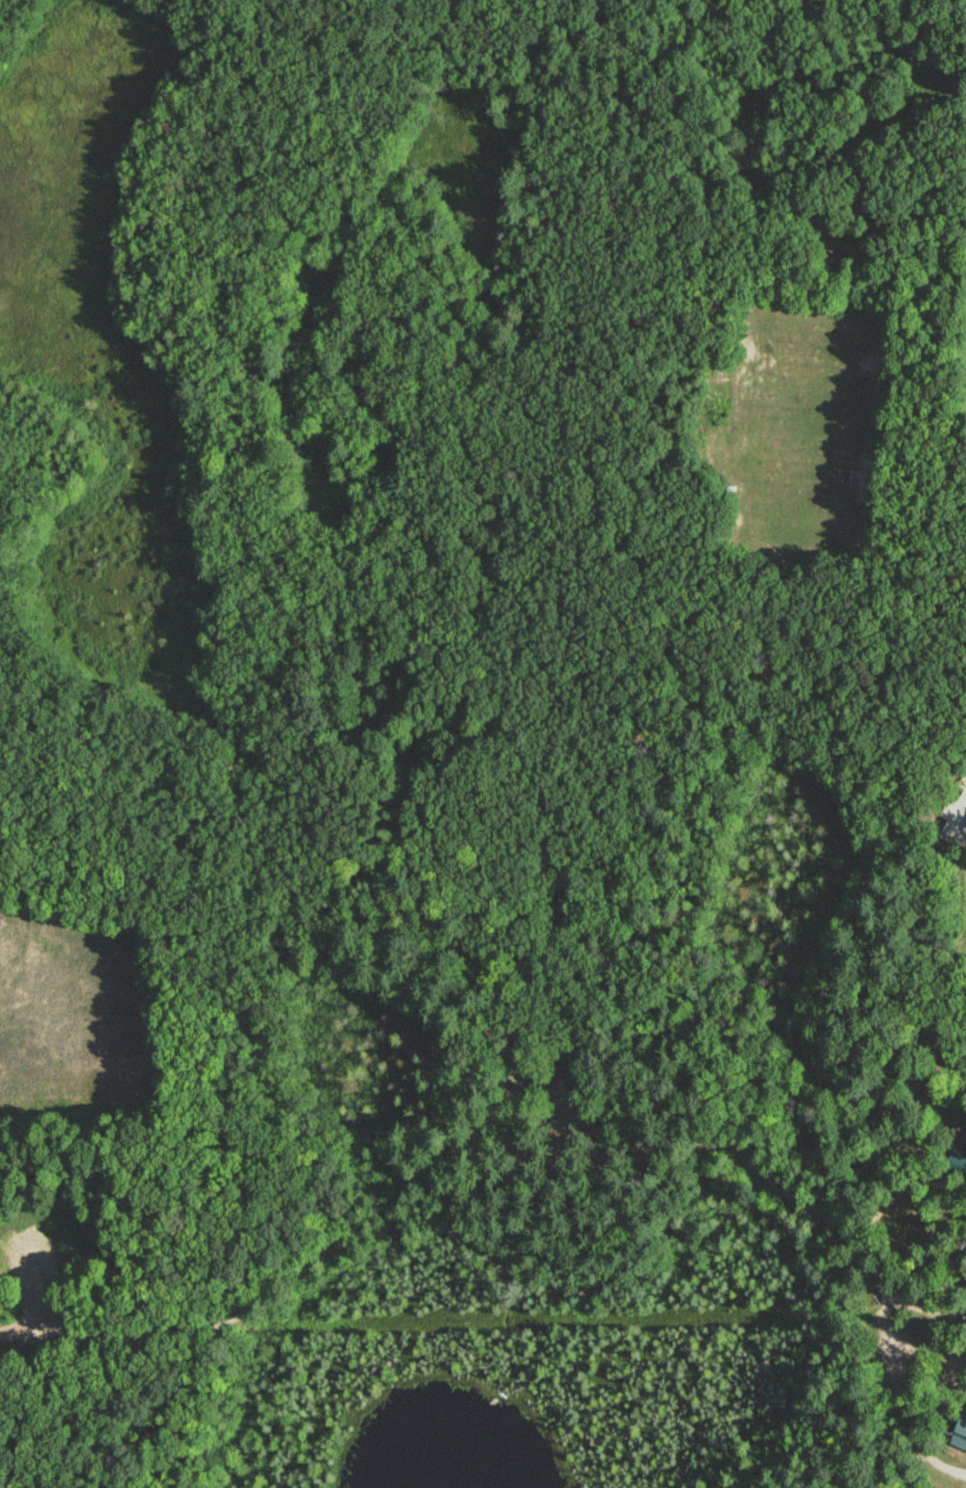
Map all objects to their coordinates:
road: (911, 592)
building: (963, 802)
road: (452, 1165)
road: (926, 1310)
road: (826, 1386)
building: (958, 1435)

